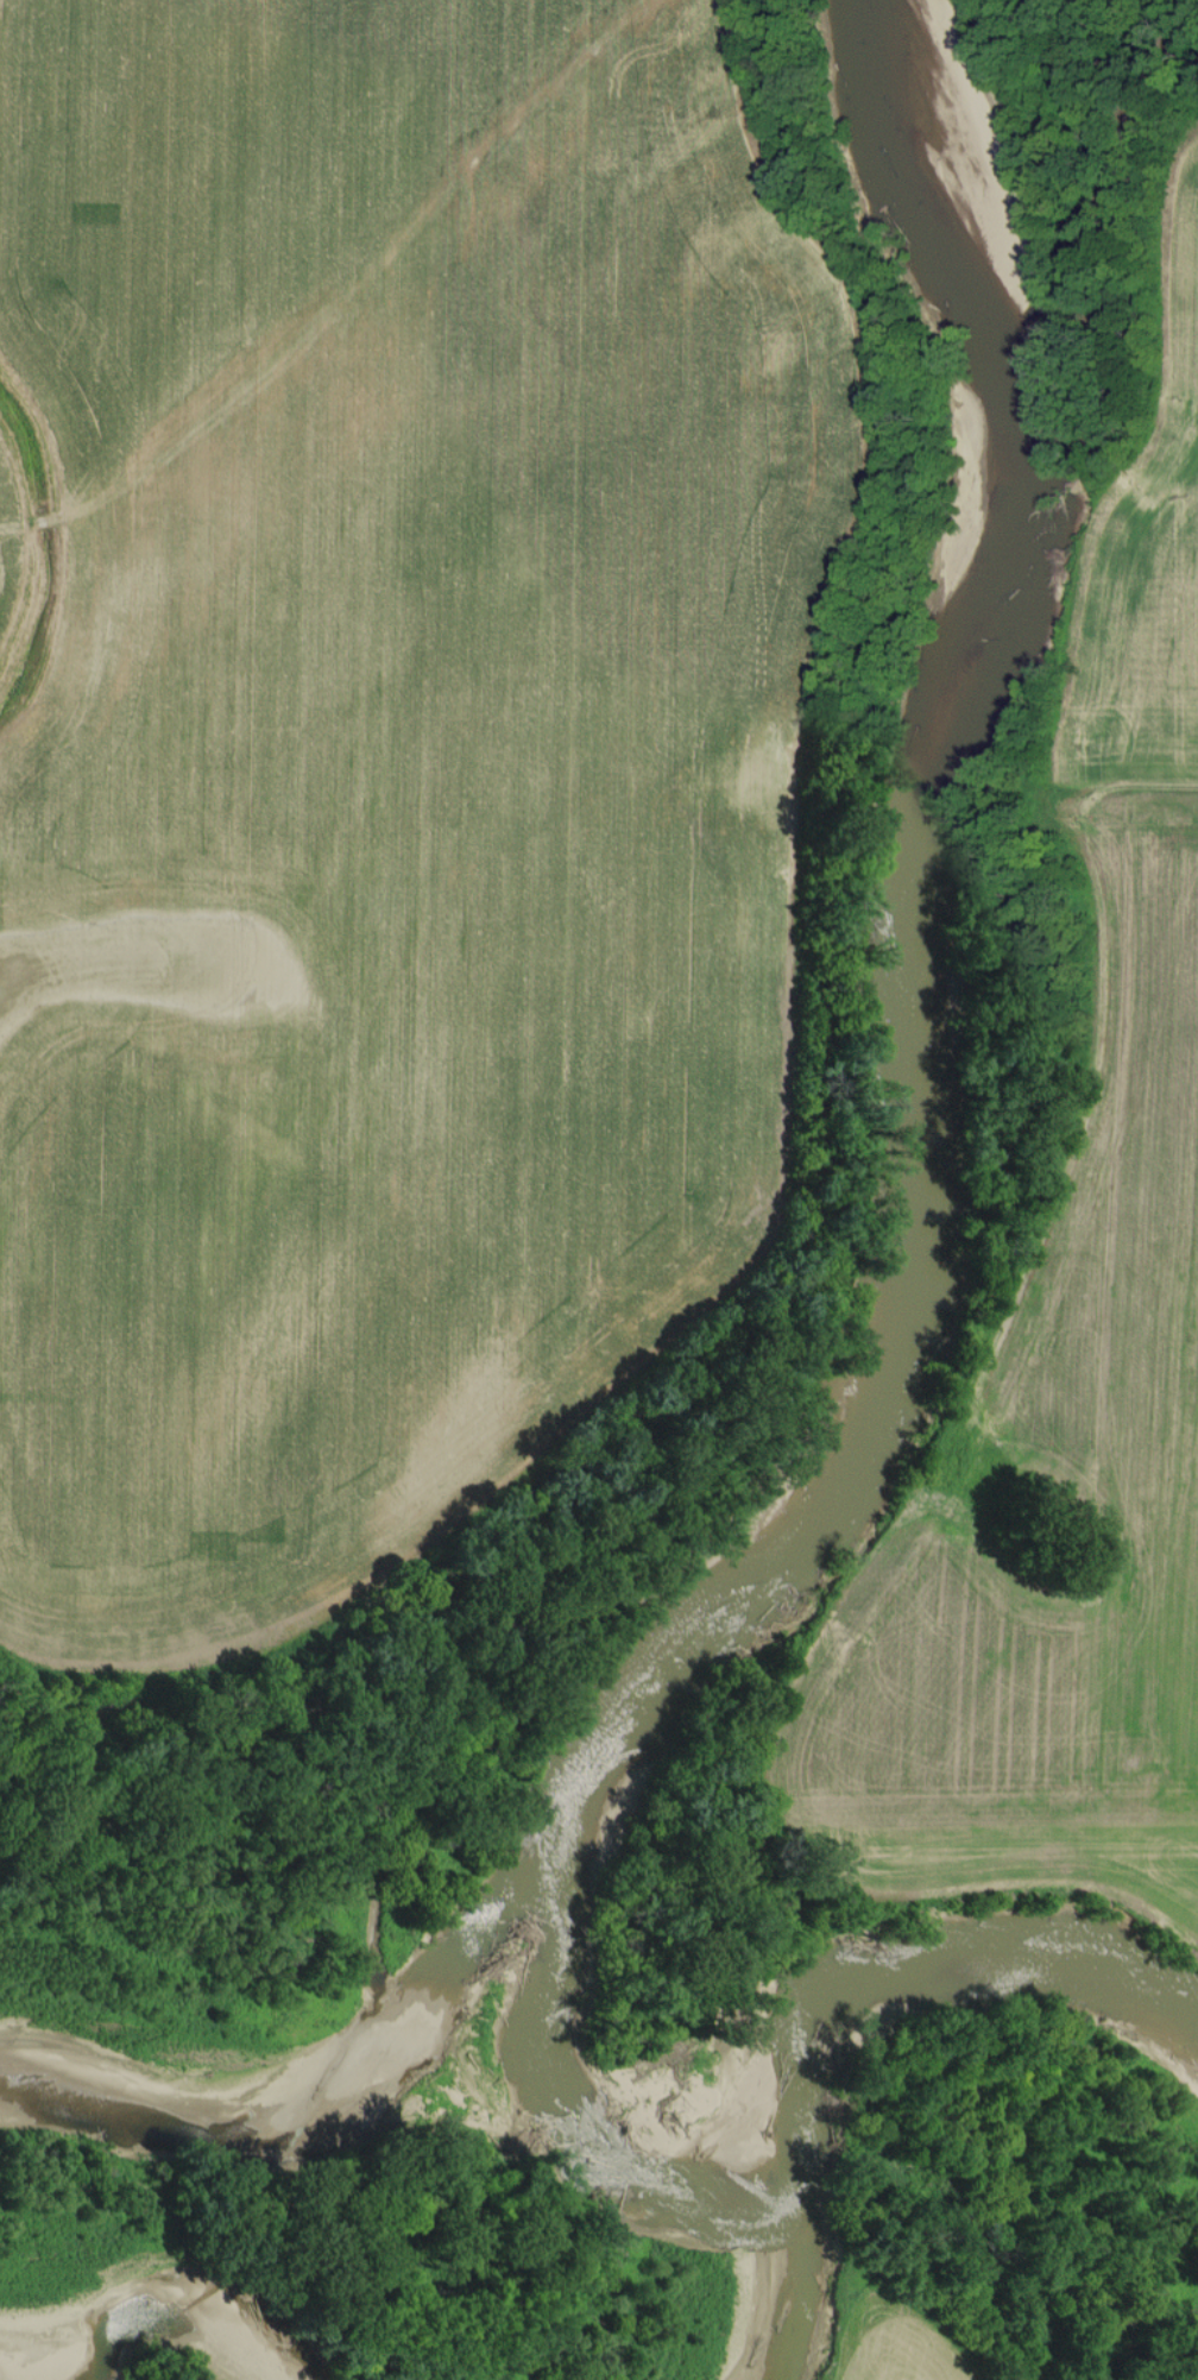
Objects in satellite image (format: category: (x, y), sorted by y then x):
road: (1159, 783)
river: (900, 1303)
road: (20, 1890)
river: (805, 2028)
river: (133, 2293)

